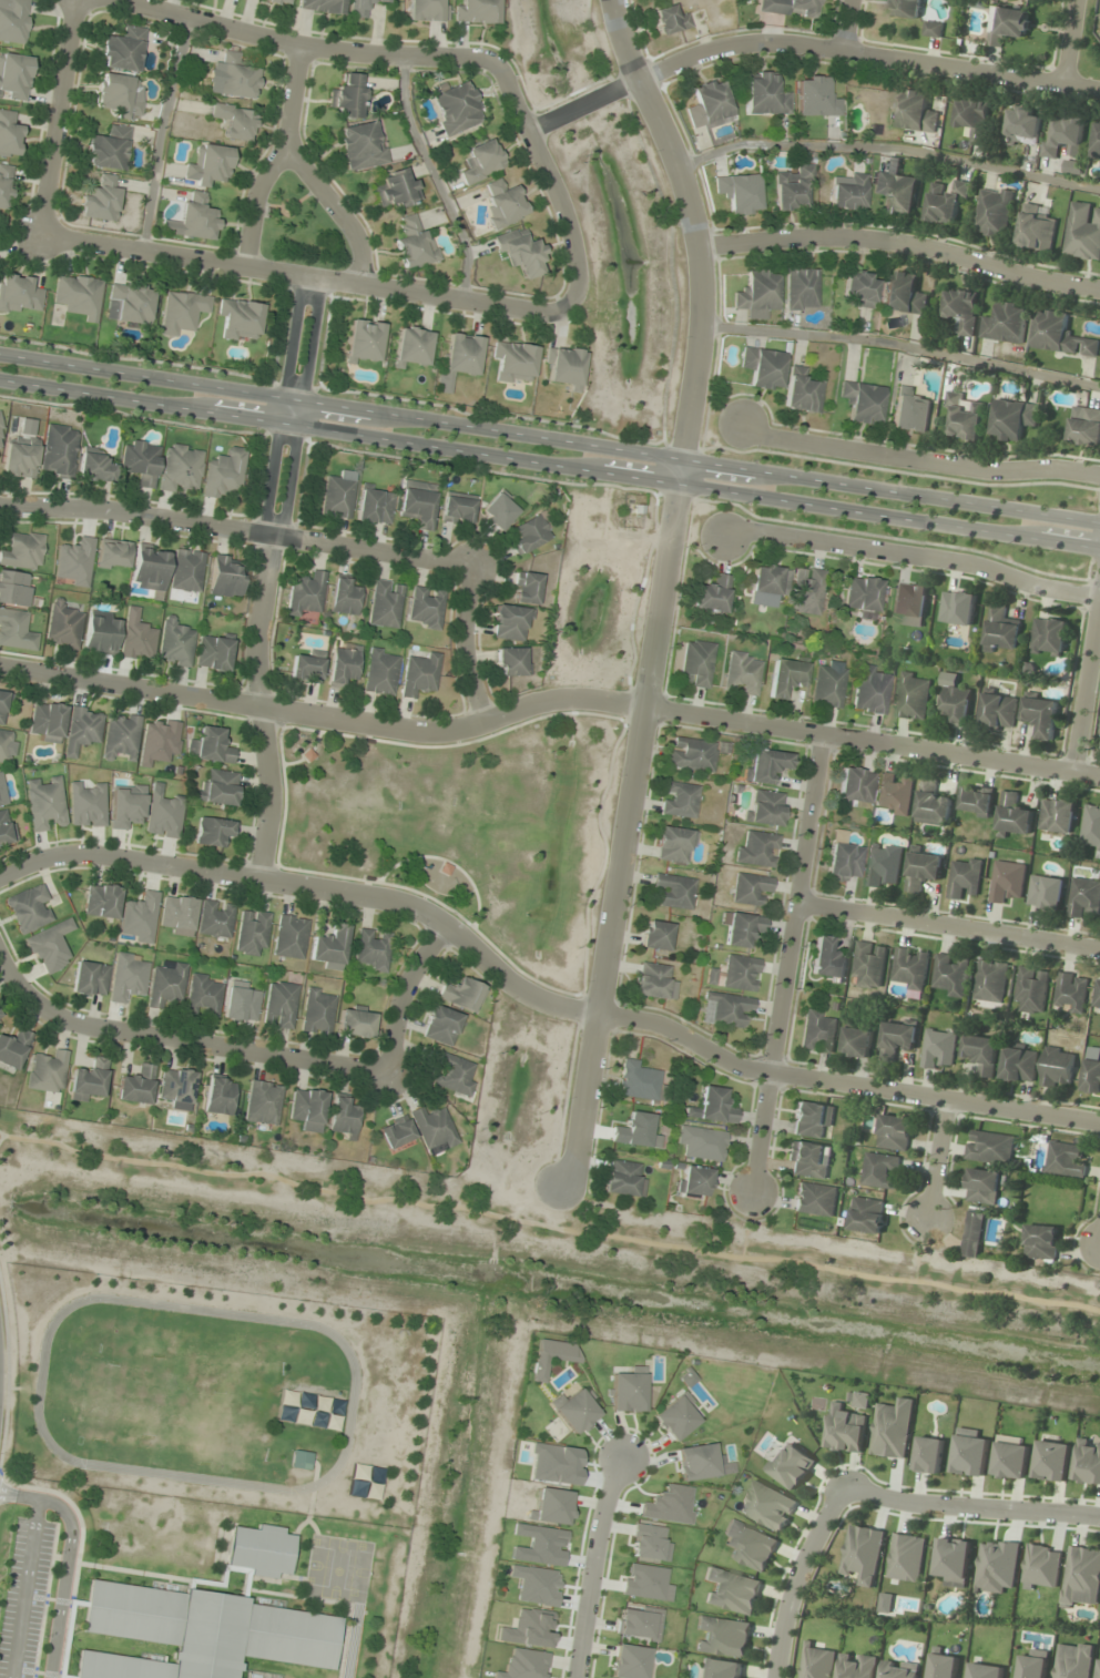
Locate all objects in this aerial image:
building: (277, 1)
building: (323, 7)
building: (361, 8)
building: (788, 8)
building: (907, 9)
building: (427, 11)
building: (477, 11)
building: (670, 19)
building: (14, 21)
road: (845, 24)
building: (1008, 24)
building: (933, 29)
road: (806, 43)
road: (1066, 43)
road: (342, 49)
building: (123, 50)
building: (14, 77)
building: (233, 78)
building: (119, 95)
building: (765, 95)
building: (348, 96)
building: (815, 96)
building: (709, 104)
building: (457, 108)
building: (914, 112)
road: (53, 116)
building: (972, 120)
building: (234, 121)
building: (1022, 126)
building: (9, 134)
building: (1065, 136)
building: (1097, 141)
building: (361, 145)
road: (890, 146)
building: (109, 149)
road: (282, 156)
building: (480, 161)
building: (208, 165)
building: (4, 185)
building: (394, 190)
building: (791, 190)
building: (847, 192)
building: (740, 193)
building: (896, 193)
building: (100, 200)
building: (503, 202)
building: (946, 203)
road: (340, 210)
building: (994, 212)
road: (561, 213)
building: (197, 217)
building: (1036, 227)
park: (299, 228)
building: (1083, 232)
building: (412, 243)
road: (903, 244)
building: (520, 252)
road: (303, 275)
building: (801, 288)
building: (859, 289)
building: (757, 294)
building: (903, 294)
building: (19, 295)
building: (79, 296)
building: (129, 303)
building: (961, 311)
building: (182, 312)
building: (241, 319)
building: (1005, 323)
building: (1060, 336)
building: (364, 340)
road: (903, 345)
building: (411, 347)
building: (458, 357)
building: (513, 360)
building: (564, 366)
building: (763, 367)
building: (802, 391)
building: (862, 403)
building: (909, 411)
building: (964, 416)
building: (1012, 419)
building: (1084, 426)
road: (549, 437)
building: (1, 443)
building: (21, 450)
building: (59, 450)
building: (140, 461)
road: (917, 461)
road: (550, 465)
building: (94, 467)
building: (180, 468)
building: (223, 472)
building: (338, 495)
building: (417, 504)
building: (374, 506)
building: (456, 508)
building: (498, 510)
road: (236, 529)
building: (530, 532)
building: (23, 551)
building: (113, 555)
road: (914, 556)
building: (74, 562)
building: (149, 568)
building: (186, 570)
building: (225, 577)
road: (263, 577)
road: (663, 586)
building: (766, 586)
building: (14, 588)
building: (526, 588)
building: (806, 591)
building: (306, 593)
building: (862, 593)
building: (711, 594)
building: (344, 596)
building: (909, 602)
building: (384, 603)
building: (426, 608)
building: (957, 608)
building: (510, 623)
building: (62, 627)
building: (16, 630)
building: (1000, 630)
building: (100, 633)
building: (1048, 635)
building: (136, 637)
building: (174, 643)
road: (464, 643)
building: (213, 652)
building: (511, 661)
building: (343, 663)
building: (695, 663)
building: (306, 668)
building: (380, 671)
building: (741, 673)
building: (419, 675)
building: (786, 678)
road: (1086, 681)
building: (827, 687)
building: (869, 690)
building: (913, 696)
road: (548, 699)
building: (954, 700)
building: (4, 703)
building: (997, 712)
building: (1040, 715)
building: (47, 722)
building: (82, 728)
building: (121, 736)
building: (159, 741)
building: (4, 745)
building: (210, 746)
building: (691, 754)
building: (765, 765)
building: (855, 787)
building: (217, 789)
building: (2, 792)
building: (894, 794)
building: (679, 800)
building: (976, 801)
building: (44, 803)
building: (86, 804)
building: (125, 805)
building: (933, 805)
building: (764, 807)
building: (164, 814)
building: (1014, 815)
building: (1057, 815)
building: (6, 827)
building: (1091, 828)
building: (214, 831)
building: (674, 845)
building: (756, 850)
building: (844, 862)
building: (883, 865)
building: (923, 869)
building: (964, 877)
building: (1006, 882)
building: (750, 888)
building: (673, 891)
building: (1045, 893)
building: (1083, 899)
building: (101, 901)
building: (29, 908)
building: (176, 915)
building: (139, 918)
building: (215, 919)
road: (947, 925)
building: (741, 929)
building: (252, 933)
building: (655, 935)
building: (289, 937)
building: (50, 947)
building: (329, 947)
building: (371, 950)
building: (827, 959)
road: (785, 960)
building: (868, 965)
building: (909, 969)
building: (949, 975)
building: (128, 977)
building: (89, 979)
building: (651, 980)
building: (990, 982)
building: (165, 984)
road: (14, 988)
building: (1030, 990)
building: (1070, 993)
road: (401, 994)
building: (462, 994)
building: (203, 996)
building: (1098, 997)
road: (538, 999)
building: (241, 1003)
building: (279, 1005)
building: (725, 1010)
building: (317, 1013)
building: (0, 1018)
building: (440, 1026)
building: (818, 1031)
building: (896, 1040)
building: (856, 1043)
building: (12, 1048)
road: (211, 1048)
building: (937, 1048)
building: (981, 1054)
building: (1019, 1064)
building: (1057, 1068)
building: (47, 1072)
building: (1091, 1072)
building: (454, 1075)
building: (89, 1080)
building: (636, 1081)
building: (135, 1086)
building: (176, 1086)
building: (218, 1096)
building: (262, 1102)
building: (712, 1107)
building: (307, 1109)
building: (343, 1117)
building: (811, 1119)
building: (432, 1129)
building: (632, 1130)
building: (395, 1131)
building: (894, 1132)
building: (702, 1142)
building: (989, 1148)
building: (1065, 1159)
building: (808, 1160)
road: (935, 1163)
building: (879, 1171)
building: (623, 1179)
building: (693, 1180)
building: (984, 1187)
building: (814, 1199)
building: (866, 1216)
building: (972, 1234)
building: (1040, 1242)
building: (551, 1356)
building: (627, 1389)
building: (862, 1401)
building: (309, 1410)
building: (576, 1410)
building: (676, 1416)
building: (893, 1430)
building: (845, 1431)
building: (970, 1453)
building: (929, 1454)
building: (1011, 1457)
building: (299, 1458)
building: (695, 1461)
building: (1052, 1461)
building: (1088, 1462)
building: (791, 1466)
building: (364, 1482)
building: (767, 1506)
road: (969, 1506)
building: (646, 1542)
building: (748, 1546)
building: (259, 1550)
building: (863, 1554)
building: (906, 1557)
road: (593, 1560)
building: (953, 1562)
building: (997, 1563)
building: (1040, 1566)
building: (1082, 1576)
road: (793, 1578)
building: (732, 1590)
building: (639, 1623)
building: (200, 1633)
building: (723, 1637)
building: (1073, 1659)
building: (816, 1661)
building: (856, 1666)
building: (943, 1666)
building: (1031, 1667)
building: (720, 1669)
building: (985, 1670)
building: (1099, 1671)

